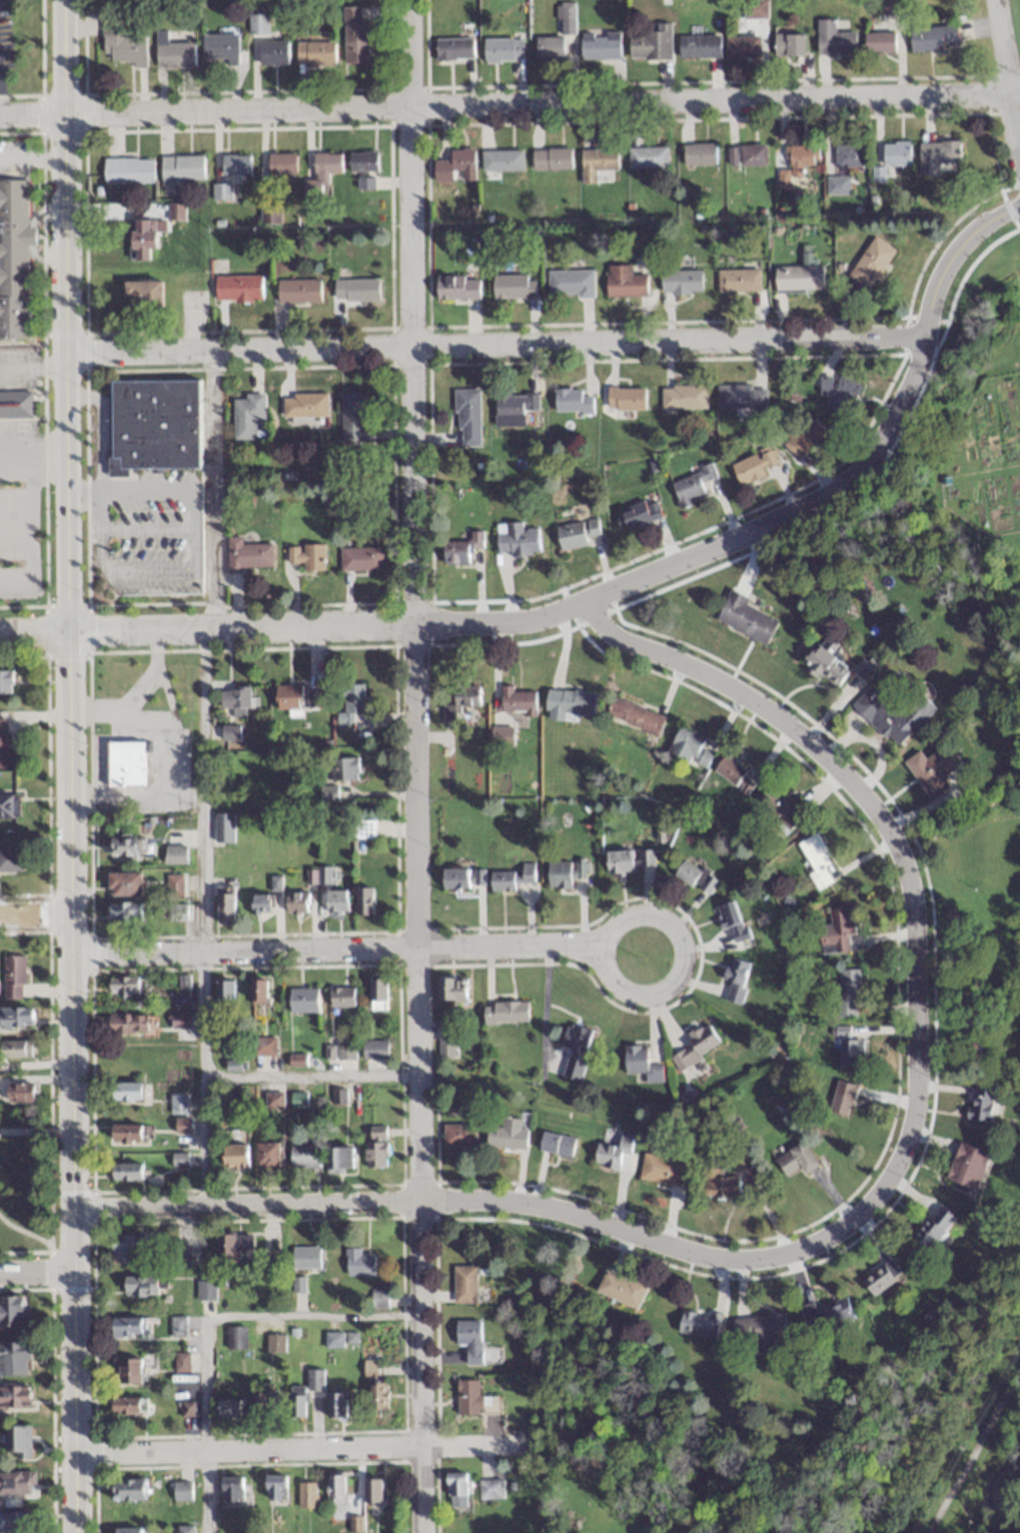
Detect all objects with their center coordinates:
building: (257, 24)
park: (1014, 30)
building: (355, 35)
building: (932, 38)
building: (833, 39)
building: (878, 42)
building: (651, 44)
building: (789, 44)
building: (599, 46)
building: (698, 46)
building: (742, 46)
building: (124, 47)
building: (548, 47)
building: (219, 48)
building: (453, 49)
building: (502, 50)
building: (172, 53)
building: (273, 53)
building: (315, 53)
road: (1007, 73)
street lamp: (75, 77)
road: (534, 101)
road: (29, 114)
street lamp: (43, 132)
building: (895, 153)
building: (698, 154)
building: (745, 155)
building: (847, 155)
building: (936, 157)
building: (647, 158)
road: (30, 159)
building: (551, 159)
building: (501, 160)
building: (362, 161)
building: (596, 163)
building: (795, 163)
building: (234, 165)
building: (455, 165)
building: (281, 166)
building: (181, 169)
building: (127, 170)
building: (322, 173)
building: (365, 182)
building: (221, 192)
building: (177, 212)
building: (269, 212)
building: (142, 240)
building: (13, 261)
building: (870, 263)
building: (798, 278)
building: (738, 280)
building: (680, 281)
building: (624, 282)
building: (570, 283)
building: (513, 286)
building: (457, 287)
building: (237, 288)
building: (355, 289)
building: (298, 290)
building: (142, 294)
street lamp: (49, 327)
road: (495, 344)
road: (33, 367)
building: (838, 390)
building: (741, 396)
building: (683, 397)
building: (625, 398)
building: (571, 401)
building: (15, 404)
building: (304, 405)
building: (513, 406)
building: (247, 416)
building: (354, 416)
building: (467, 417)
building: (153, 426)
road: (99, 429)
building: (803, 438)
road: (15, 455)
park: (946, 464)
building: (754, 466)
road: (852, 472)
building: (690, 487)
road: (83, 492)
road: (161, 492)
road: (29, 508)
street lamp: (50, 510)
road: (99, 510)
building: (639, 514)
road: (148, 528)
building: (570, 536)
building: (516, 539)
road: (197, 548)
building: (460, 549)
building: (248, 555)
building: (307, 557)
building: (360, 559)
road: (131, 570)
building: (746, 620)
road: (33, 635)
street lamp: (37, 661)
building: (826, 663)
building: (5, 683)
building: (288, 697)
building: (235, 701)
building: (349, 701)
building: (516, 701)
building: (460, 702)
building: (567, 704)
building: (893, 714)
building: (634, 716)
building: (229, 733)
building: (500, 736)
building: (2, 743)
building: (690, 749)
road: (166, 755)
street lamp: (77, 762)
building: (125, 765)
road: (67, 766)
road: (414, 766)
building: (343, 768)
building: (930, 771)
building: (734, 775)
road: (203, 776)
building: (328, 793)
building: (8, 807)
building: (783, 809)
road: (877, 817)
building: (223, 828)
building: (364, 832)
building: (127, 848)
building: (174, 855)
building: (817, 860)
building: (11, 861)
building: (630, 861)
building: (559, 875)
building: (695, 876)
building: (512, 877)
building: (455, 879)
street lamp: (83, 881)
building: (123, 885)
building: (173, 885)
building: (336, 901)
building: (367, 901)
building: (224, 903)
building: (296, 903)
building: (261, 904)
building: (123, 912)
building: (177, 912)
road: (34, 913)
building: (731, 920)
building: (836, 930)
park: (972, 936)
street lamp: (54, 948)
road: (335, 950)
building: (12, 977)
building: (736, 980)
road: (669, 985)
building: (127, 988)
building: (452, 988)
building: (227, 989)
building: (259, 989)
building: (377, 992)
building: (847, 992)
building: (341, 995)
building: (303, 999)
building: (505, 1011)
building: (15, 1016)
building: (178, 1020)
building: (131, 1023)
building: (263, 1045)
building: (697, 1045)
building: (15, 1048)
building: (373, 1048)
building: (445, 1048)
building: (339, 1049)
building: (848, 1049)
building: (573, 1052)
building: (296, 1059)
building: (641, 1063)
road: (309, 1075)
building: (126, 1091)
building: (19, 1092)
building: (842, 1097)
building: (273, 1099)
building: (297, 1099)
building: (177, 1104)
building: (981, 1104)
street lamp: (56, 1108)
building: (182, 1125)
road: (35, 1130)
building: (127, 1134)
building: (509, 1134)
building: (458, 1135)
building: (557, 1143)
building: (375, 1146)
building: (613, 1148)
building: (267, 1153)
building: (235, 1154)
building: (303, 1156)
building: (341, 1157)
building: (179, 1159)
building: (796, 1160)
building: (967, 1164)
building: (660, 1170)
building: (126, 1172)
building: (718, 1184)
street lamp: (86, 1192)
road: (246, 1206)
building: (934, 1226)
building: (236, 1242)
building: (127, 1249)
building: (180, 1256)
building: (305, 1257)
building: (358, 1262)
road: (34, 1269)
building: (880, 1277)
building: (465, 1284)
building: (141, 1286)
building: (621, 1288)
building: (378, 1300)
building: (13, 1310)
building: (827, 1313)
road: (207, 1320)
building: (698, 1324)
building: (177, 1326)
building: (127, 1327)
building: (762, 1330)
building: (235, 1337)
building: (333, 1339)
building: (470, 1339)
building: (274, 1342)
building: (14, 1358)
building: (181, 1362)
building: (370, 1365)
building: (128, 1371)
building: (314, 1379)
building: (14, 1396)
building: (467, 1396)
building: (377, 1397)
building: (296, 1401)
building: (265, 1403)
building: (125, 1405)
building: (339, 1405)
building: (229, 1406)
building: (186, 1409)
park: (648, 1416)
street lamp: (95, 1426)
building: (21, 1438)
road: (288, 1444)
road: (972, 1449)
building: (15, 1483)
building: (275, 1486)
building: (335, 1487)
building: (232, 1488)
building: (489, 1488)
building: (128, 1489)
building: (372, 1489)
building: (456, 1489)
building: (181, 1490)
building: (307, 1494)
park: (999, 1497)
building: (15, 1520)
building: (185, 1529)
building: (127, 1530)

